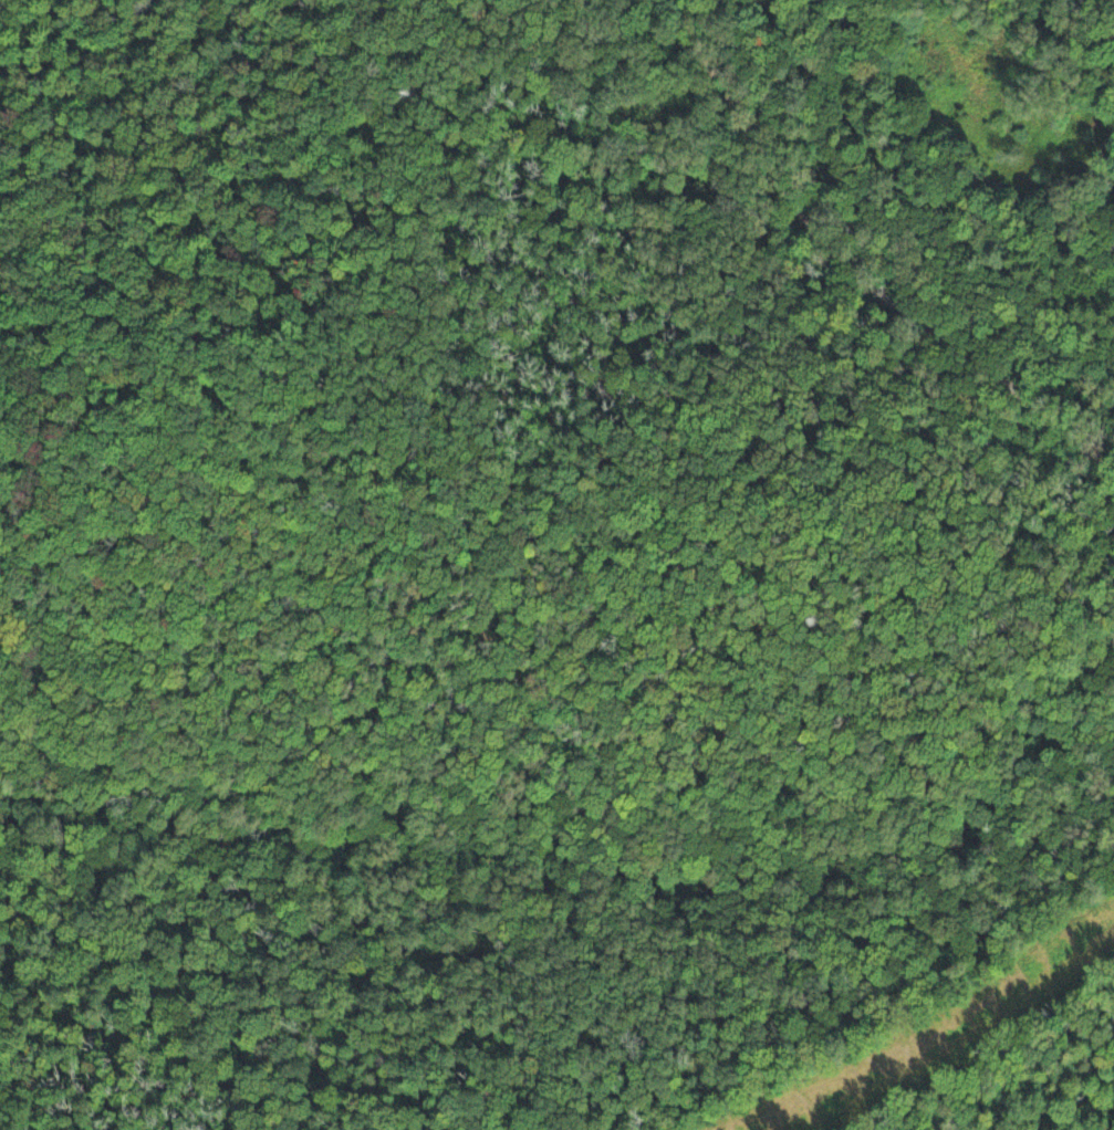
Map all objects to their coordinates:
road: (851, 275)

